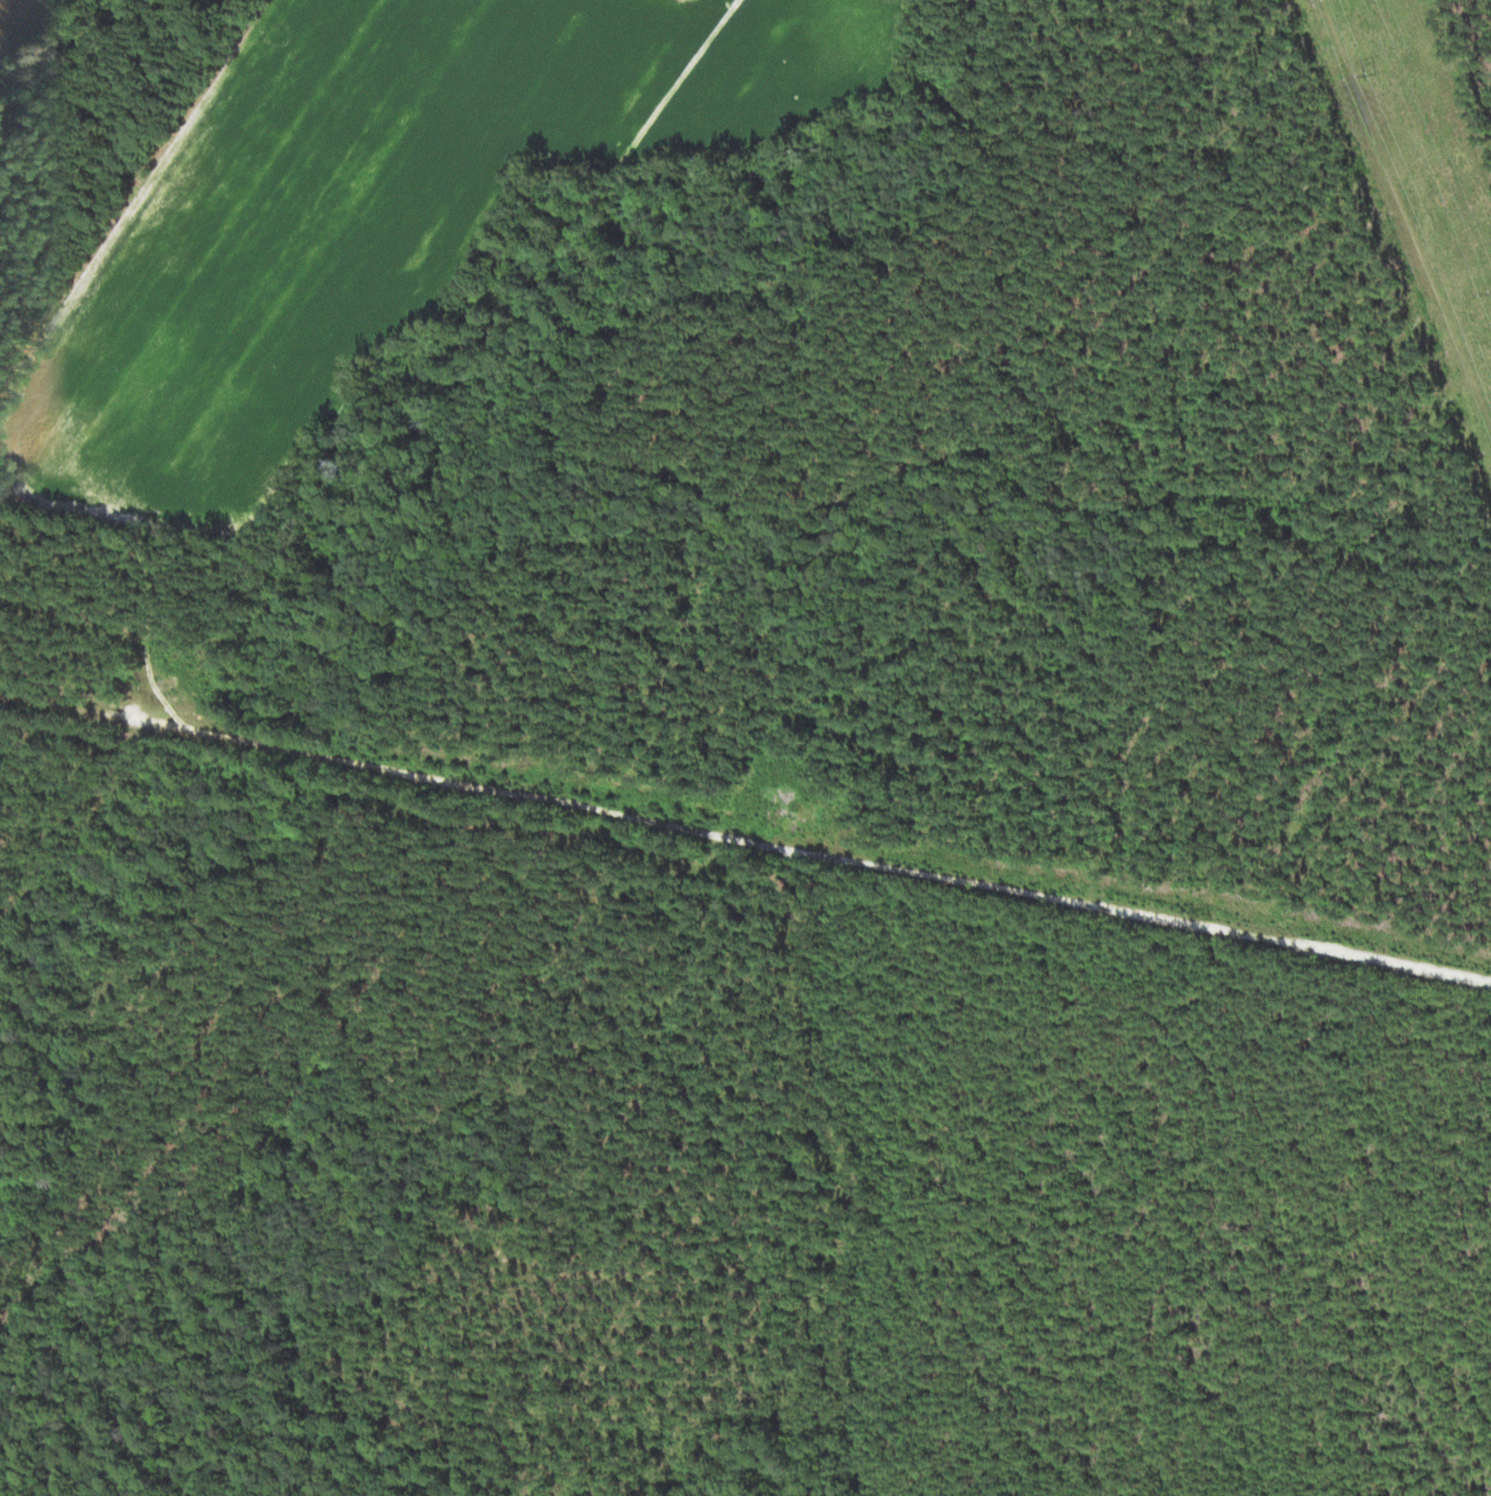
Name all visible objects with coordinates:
power tower: (1367, 72)
road: (476, 782)
road: (1222, 922)

